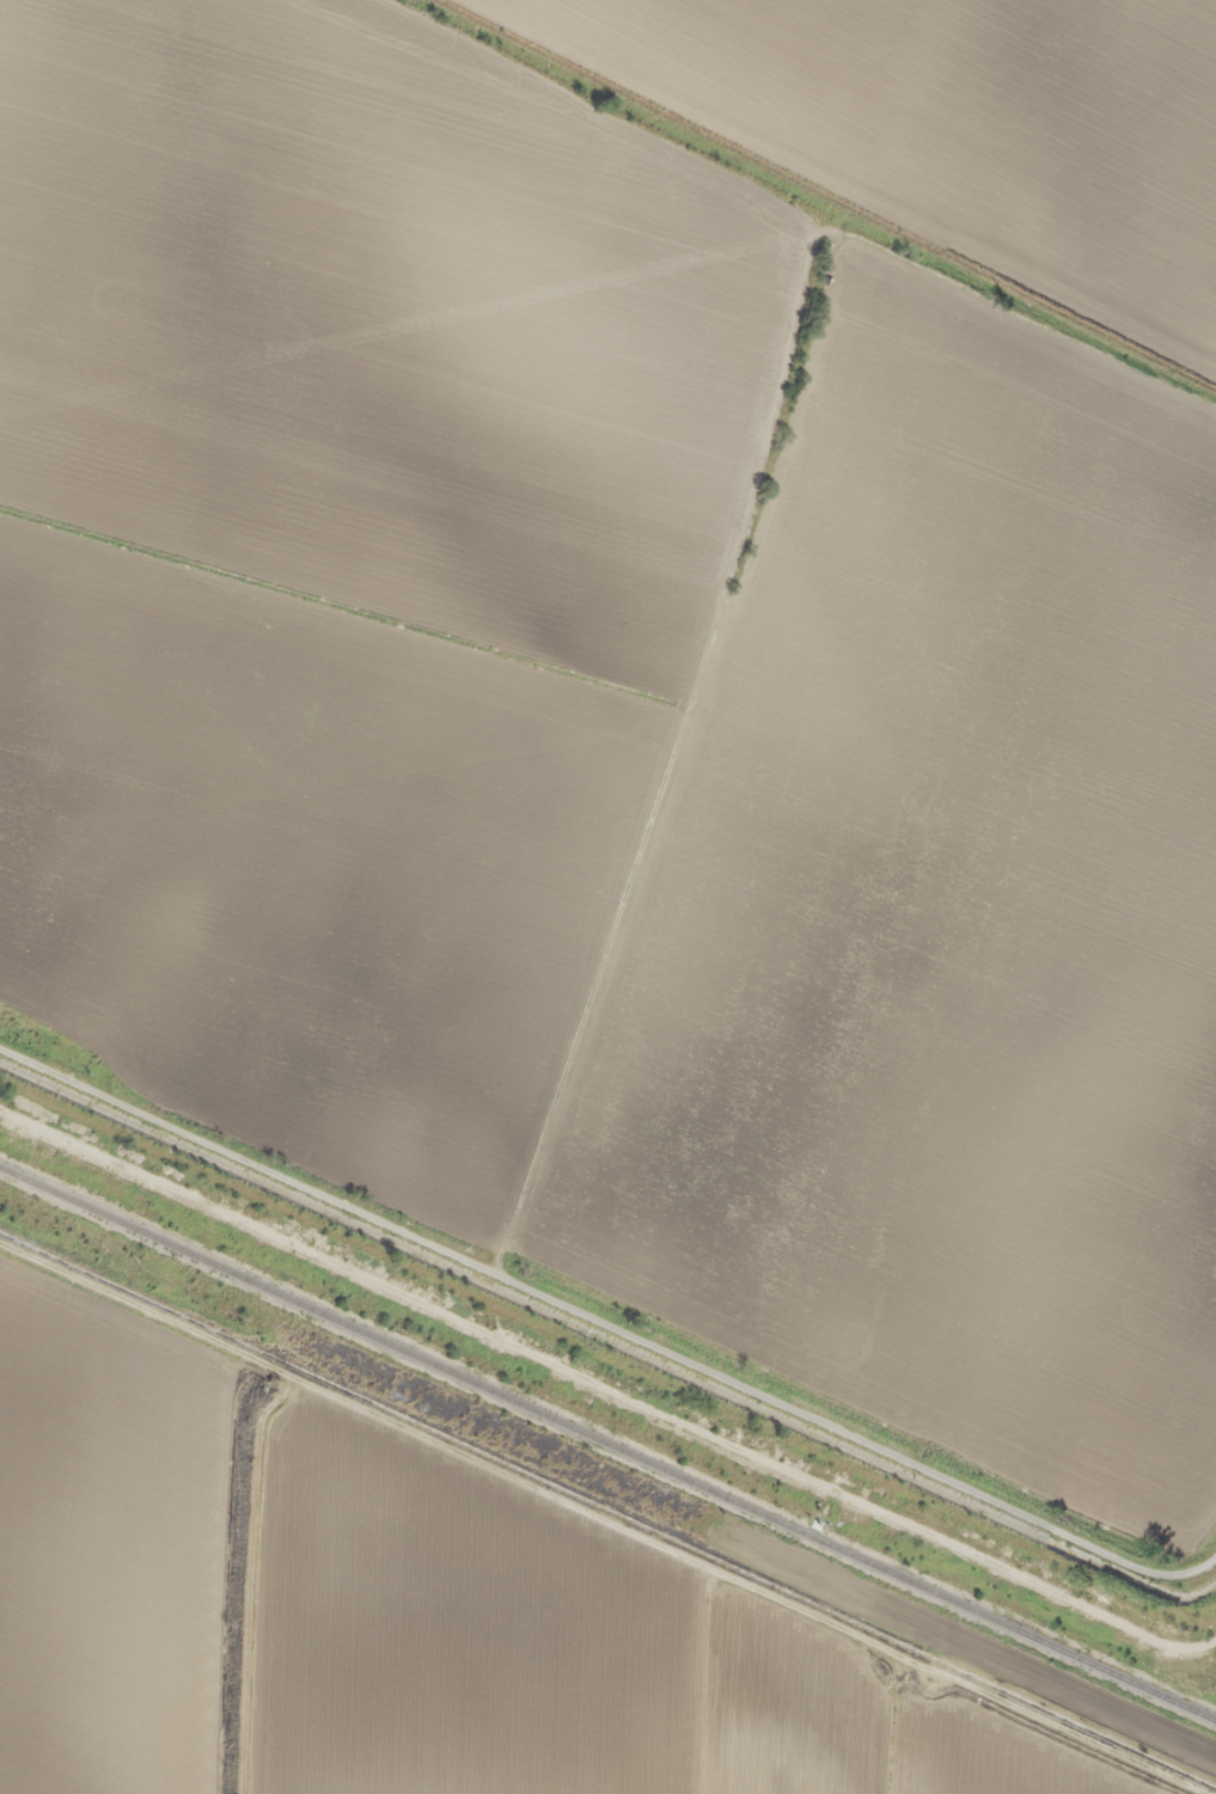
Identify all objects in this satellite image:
railway: (607, 1444)

